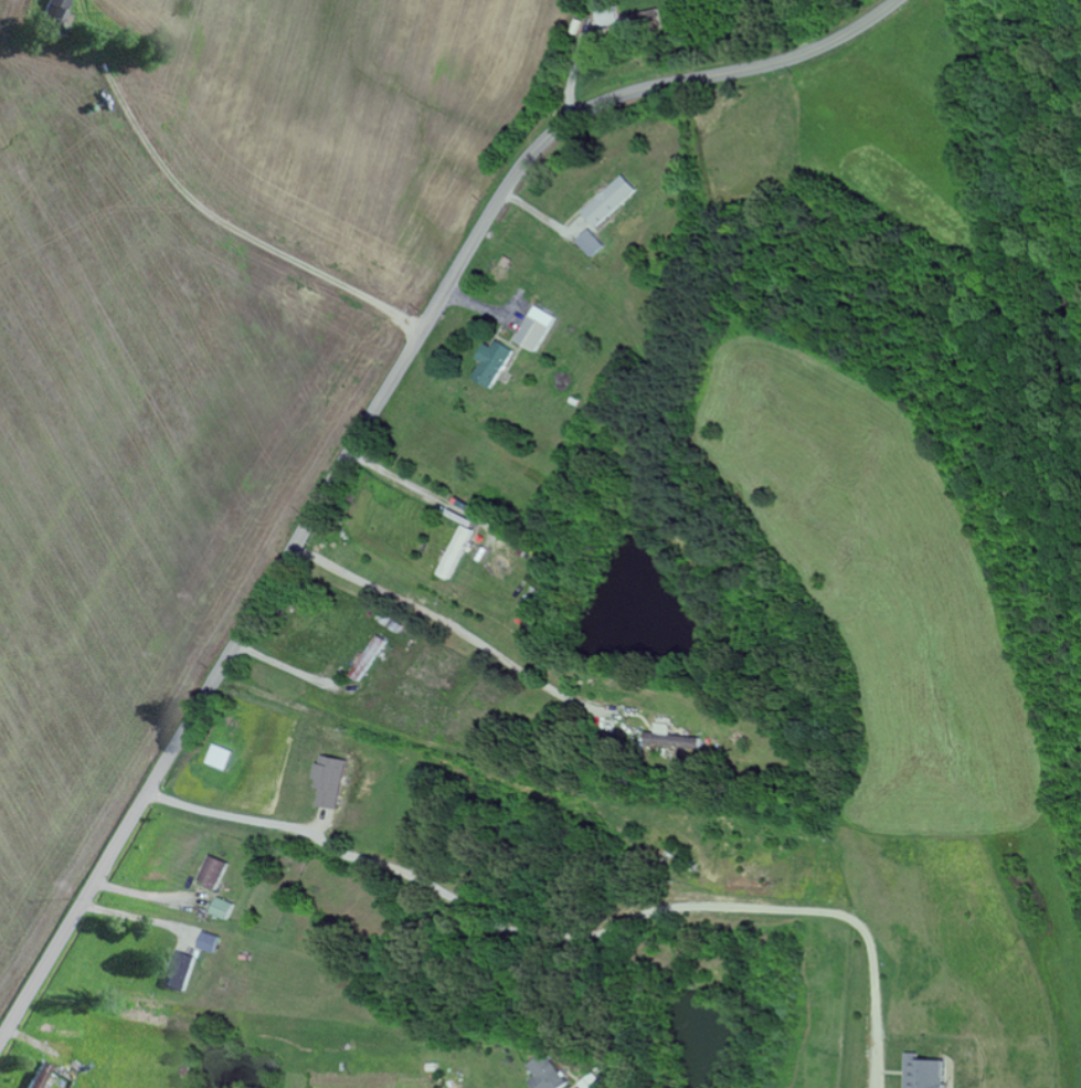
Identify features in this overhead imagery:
building: (56, 17)
building: (612, 17)
building: (613, 201)
building: (592, 243)
building: (537, 329)
building: (495, 363)
road: (367, 425)
building: (674, 743)
building: (330, 781)
building: (214, 873)
building: (224, 909)
building: (211, 943)
building: (182, 972)
building: (547, 1074)
building: (929, 1074)
building: (41, 1076)
building: (591, 1082)

